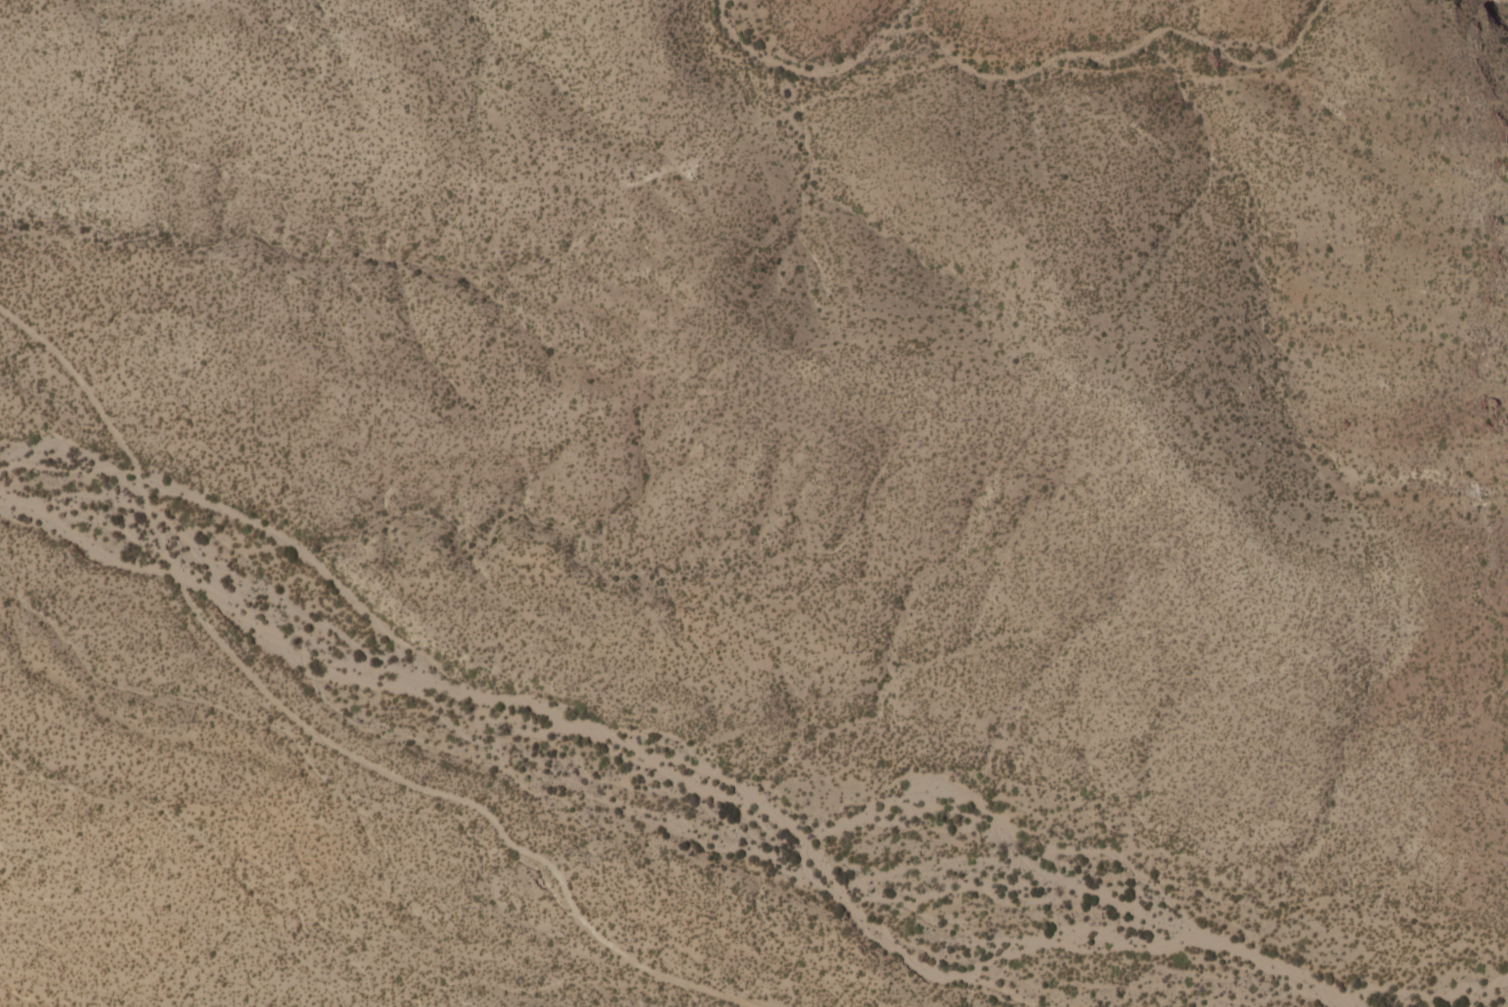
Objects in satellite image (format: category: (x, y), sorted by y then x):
road: (317, 732)

